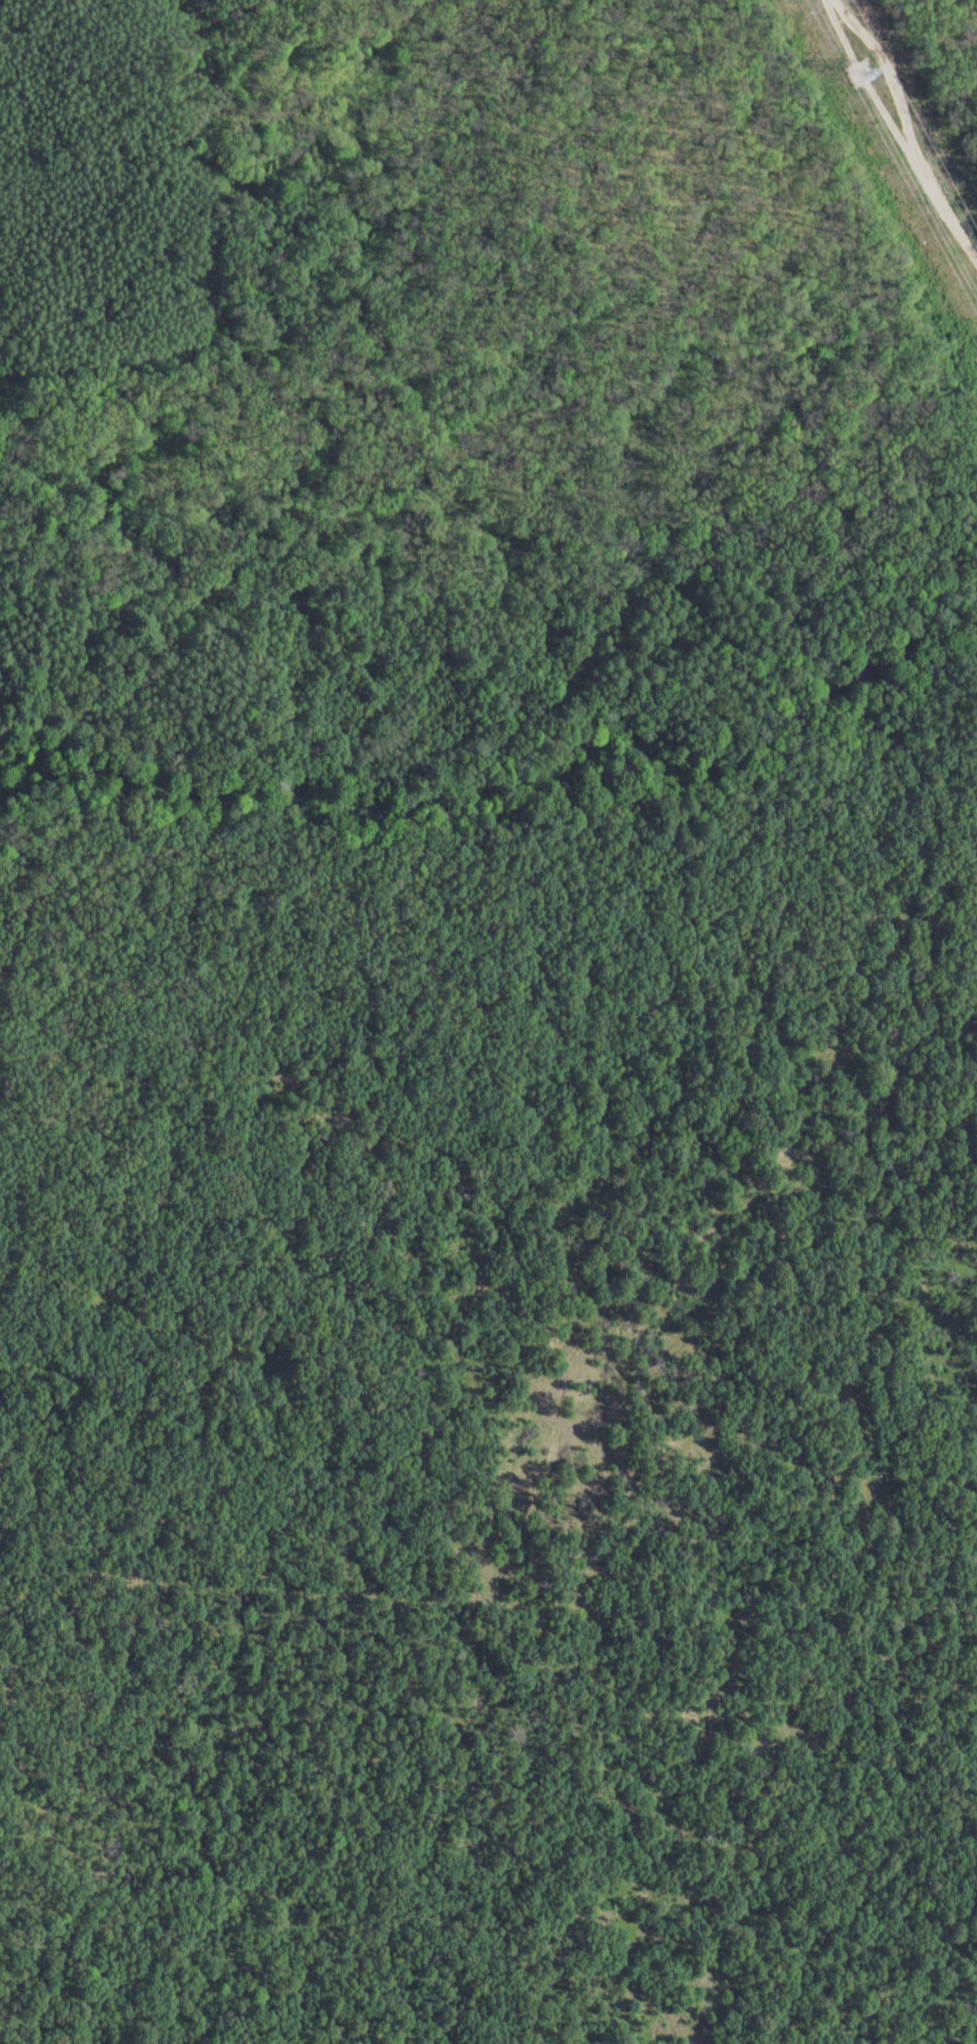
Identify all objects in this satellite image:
power tower: (852, 67)

